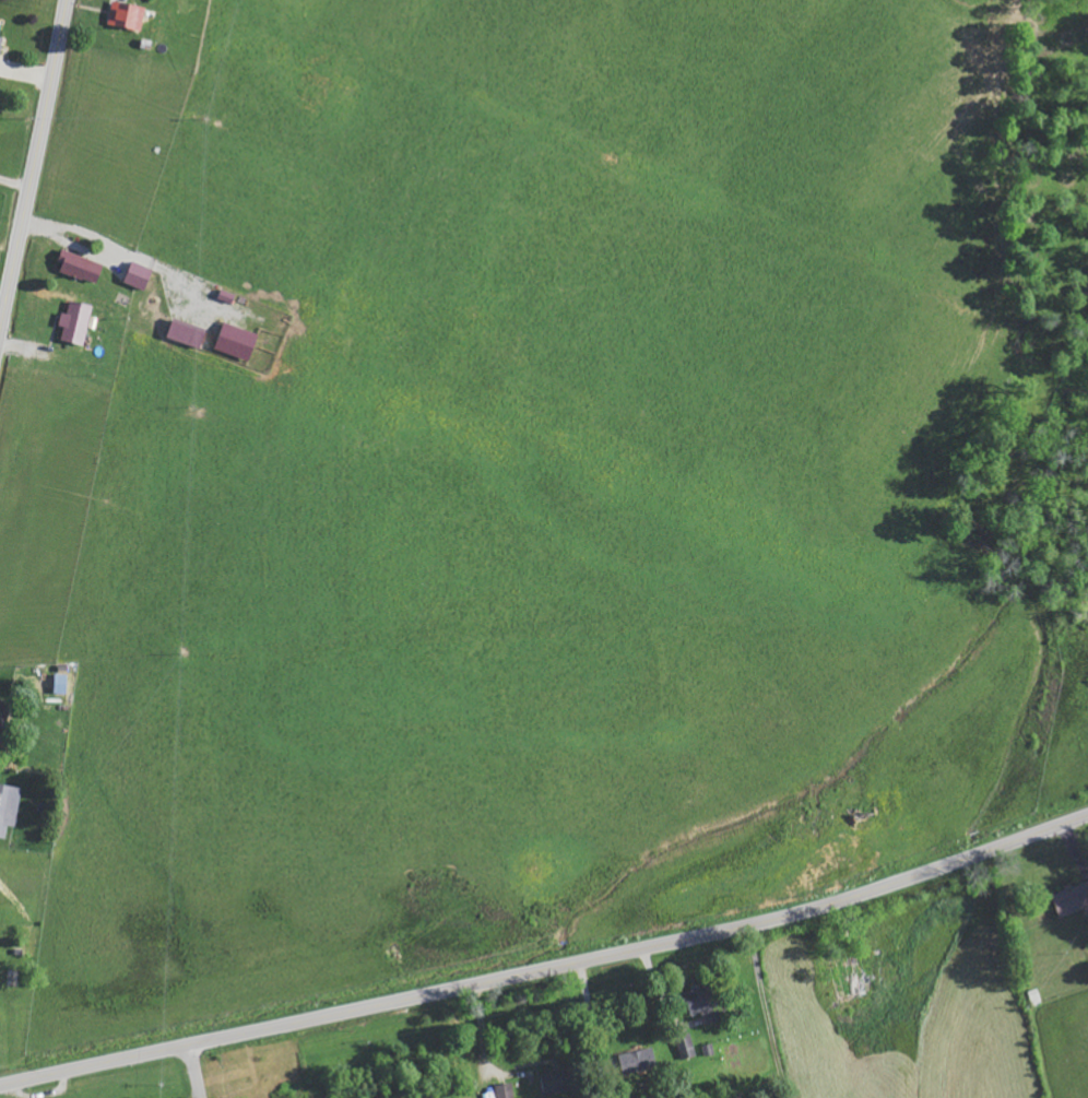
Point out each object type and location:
building: (129, 15)
building: (1, 42)
road: (34, 168)
building: (83, 267)
building: (141, 276)
building: (78, 323)
building: (188, 334)
building: (239, 342)
building: (4, 718)
building: (9, 807)
building: (1073, 898)
road: (548, 968)
building: (848, 977)
building: (1037, 996)
building: (706, 1002)
building: (686, 1047)
building: (639, 1060)
road: (190, 1072)
building: (558, 1081)
building: (506, 1090)

